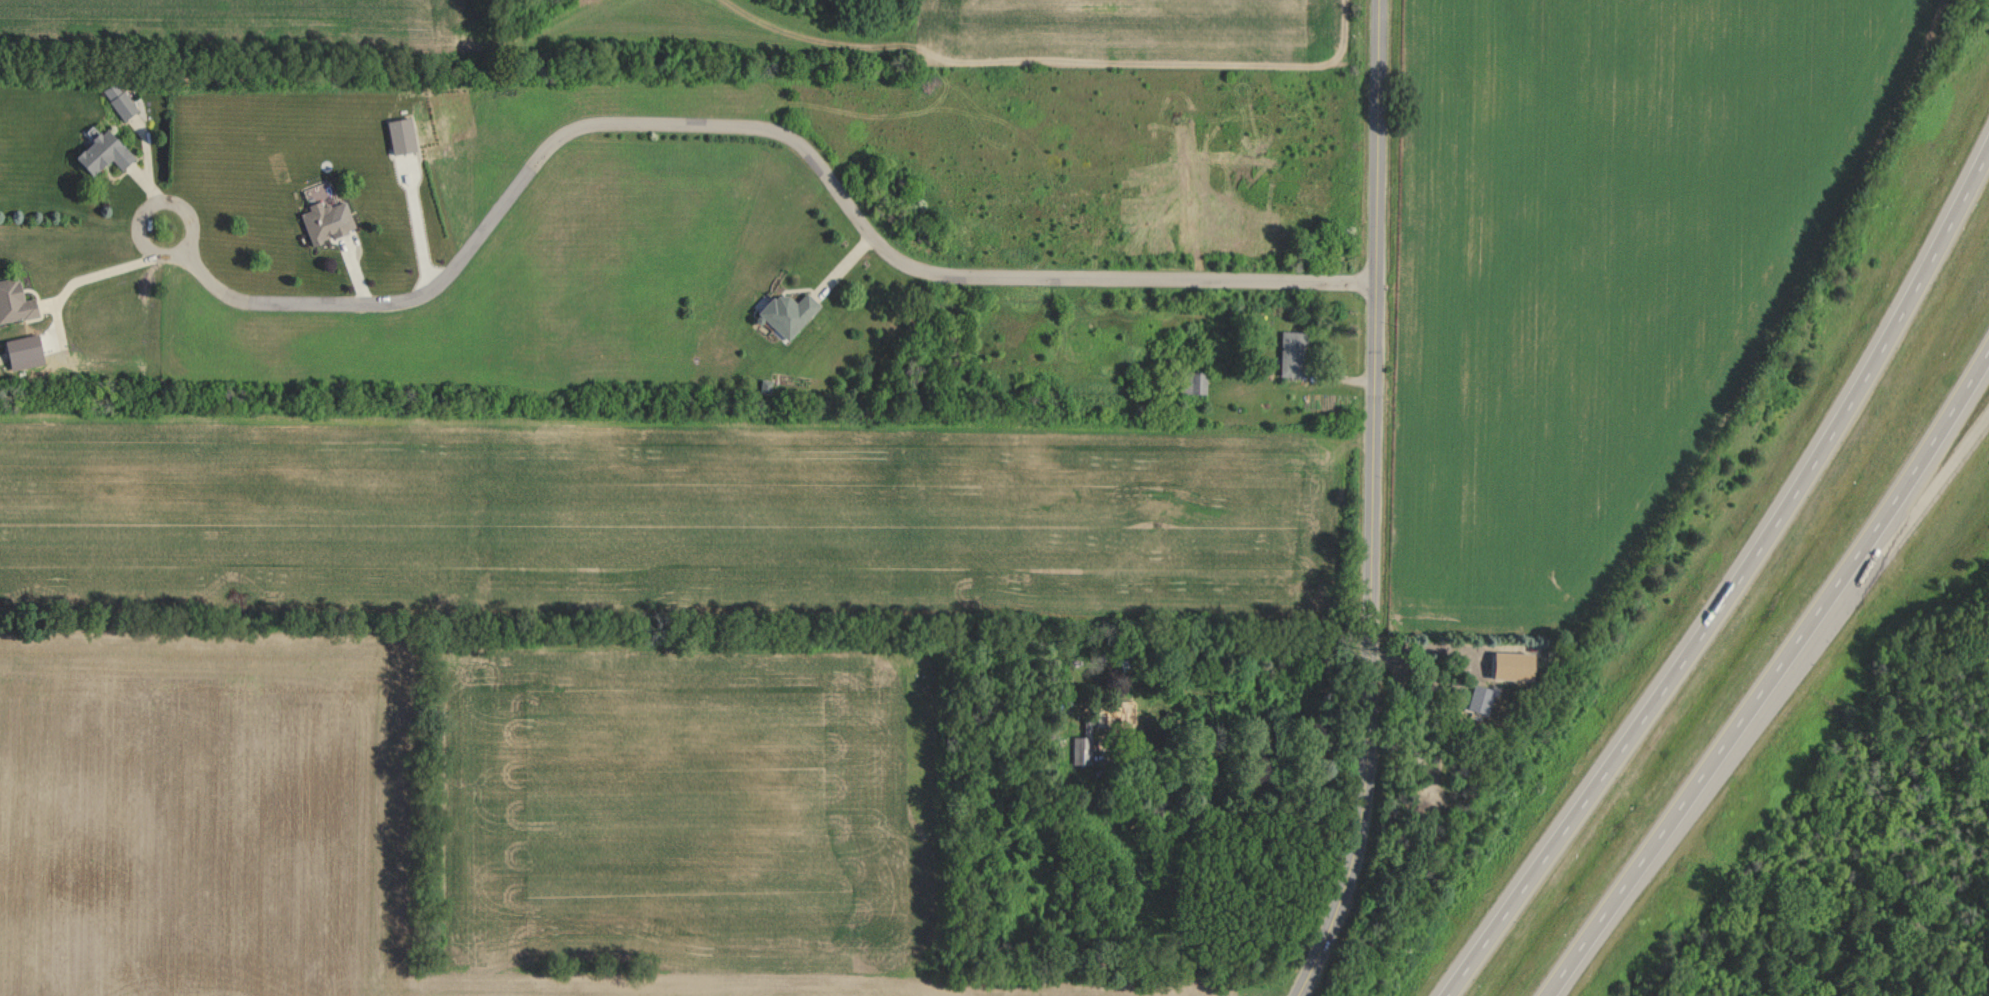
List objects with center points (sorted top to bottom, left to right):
building: (119, 100)
road: (675, 123)
building: (102, 153)
building: (324, 221)
road: (104, 270)
building: (13, 301)
building: (788, 313)
building: (1291, 353)
building: (1192, 382)
road: (1371, 504)
road: (1736, 586)
road: (1827, 634)
road: (1418, 673)
road: (1773, 677)
building: (1479, 698)
building: (1101, 722)
road: (1241, 753)

